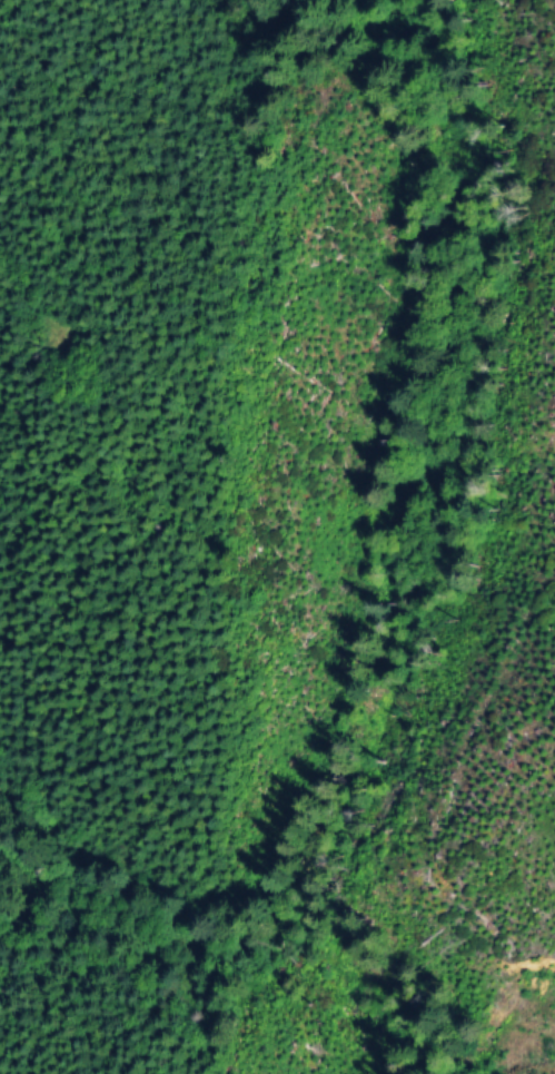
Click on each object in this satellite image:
road: (455, 1047)

